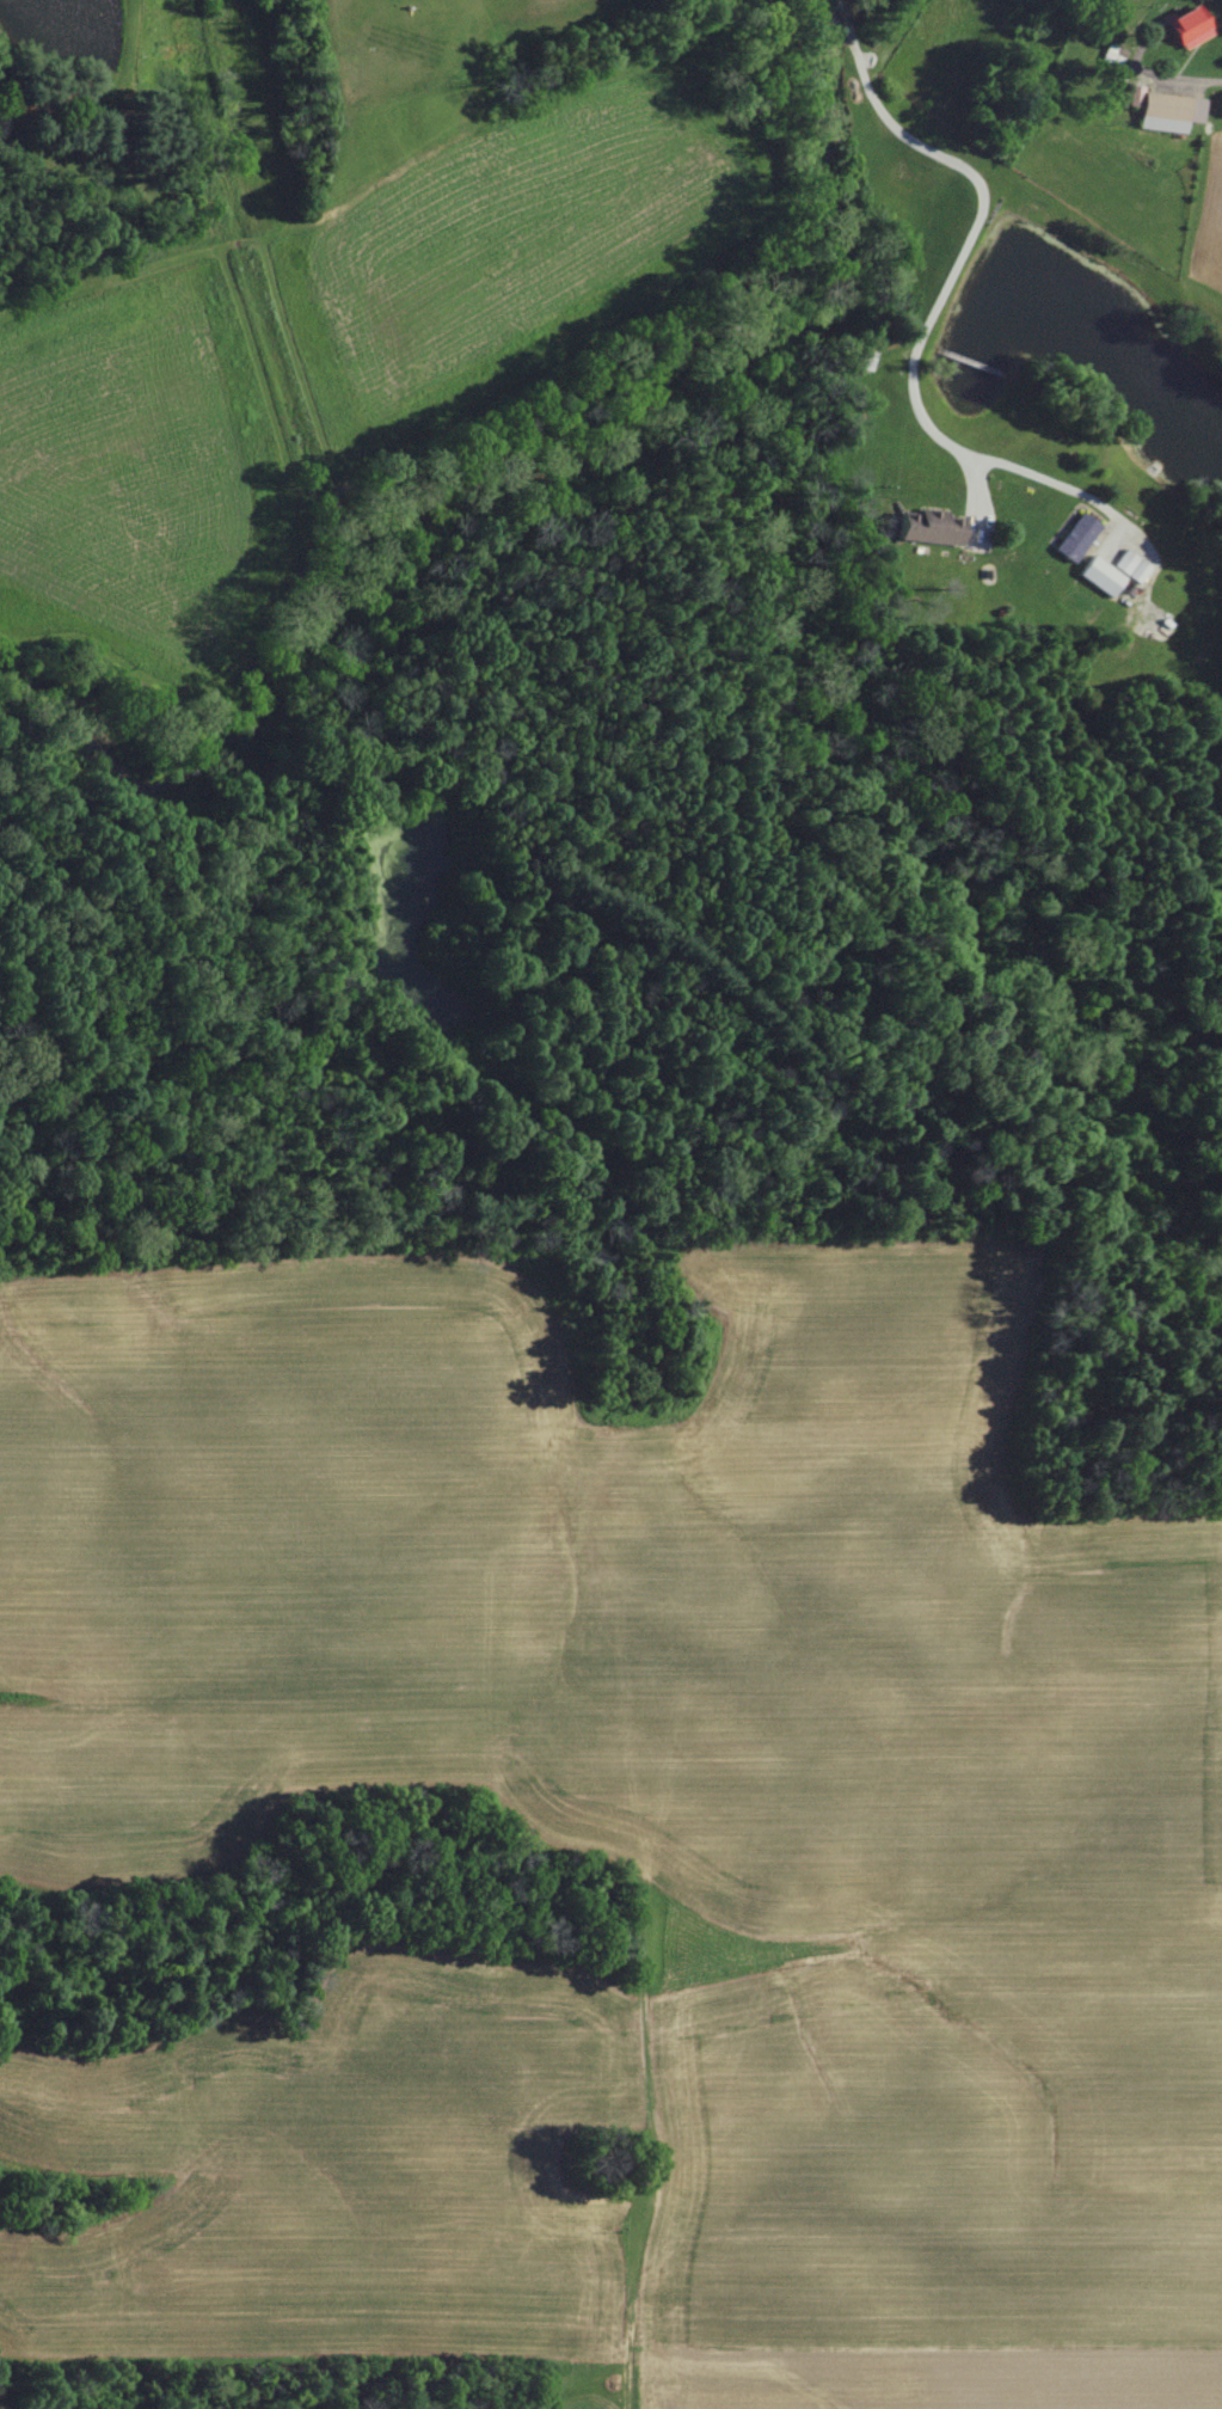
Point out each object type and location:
building: (1187, 27)
building: (1166, 110)
road: (937, 302)
building: (928, 527)
building: (1076, 538)
building: (1130, 566)
building: (1100, 576)

